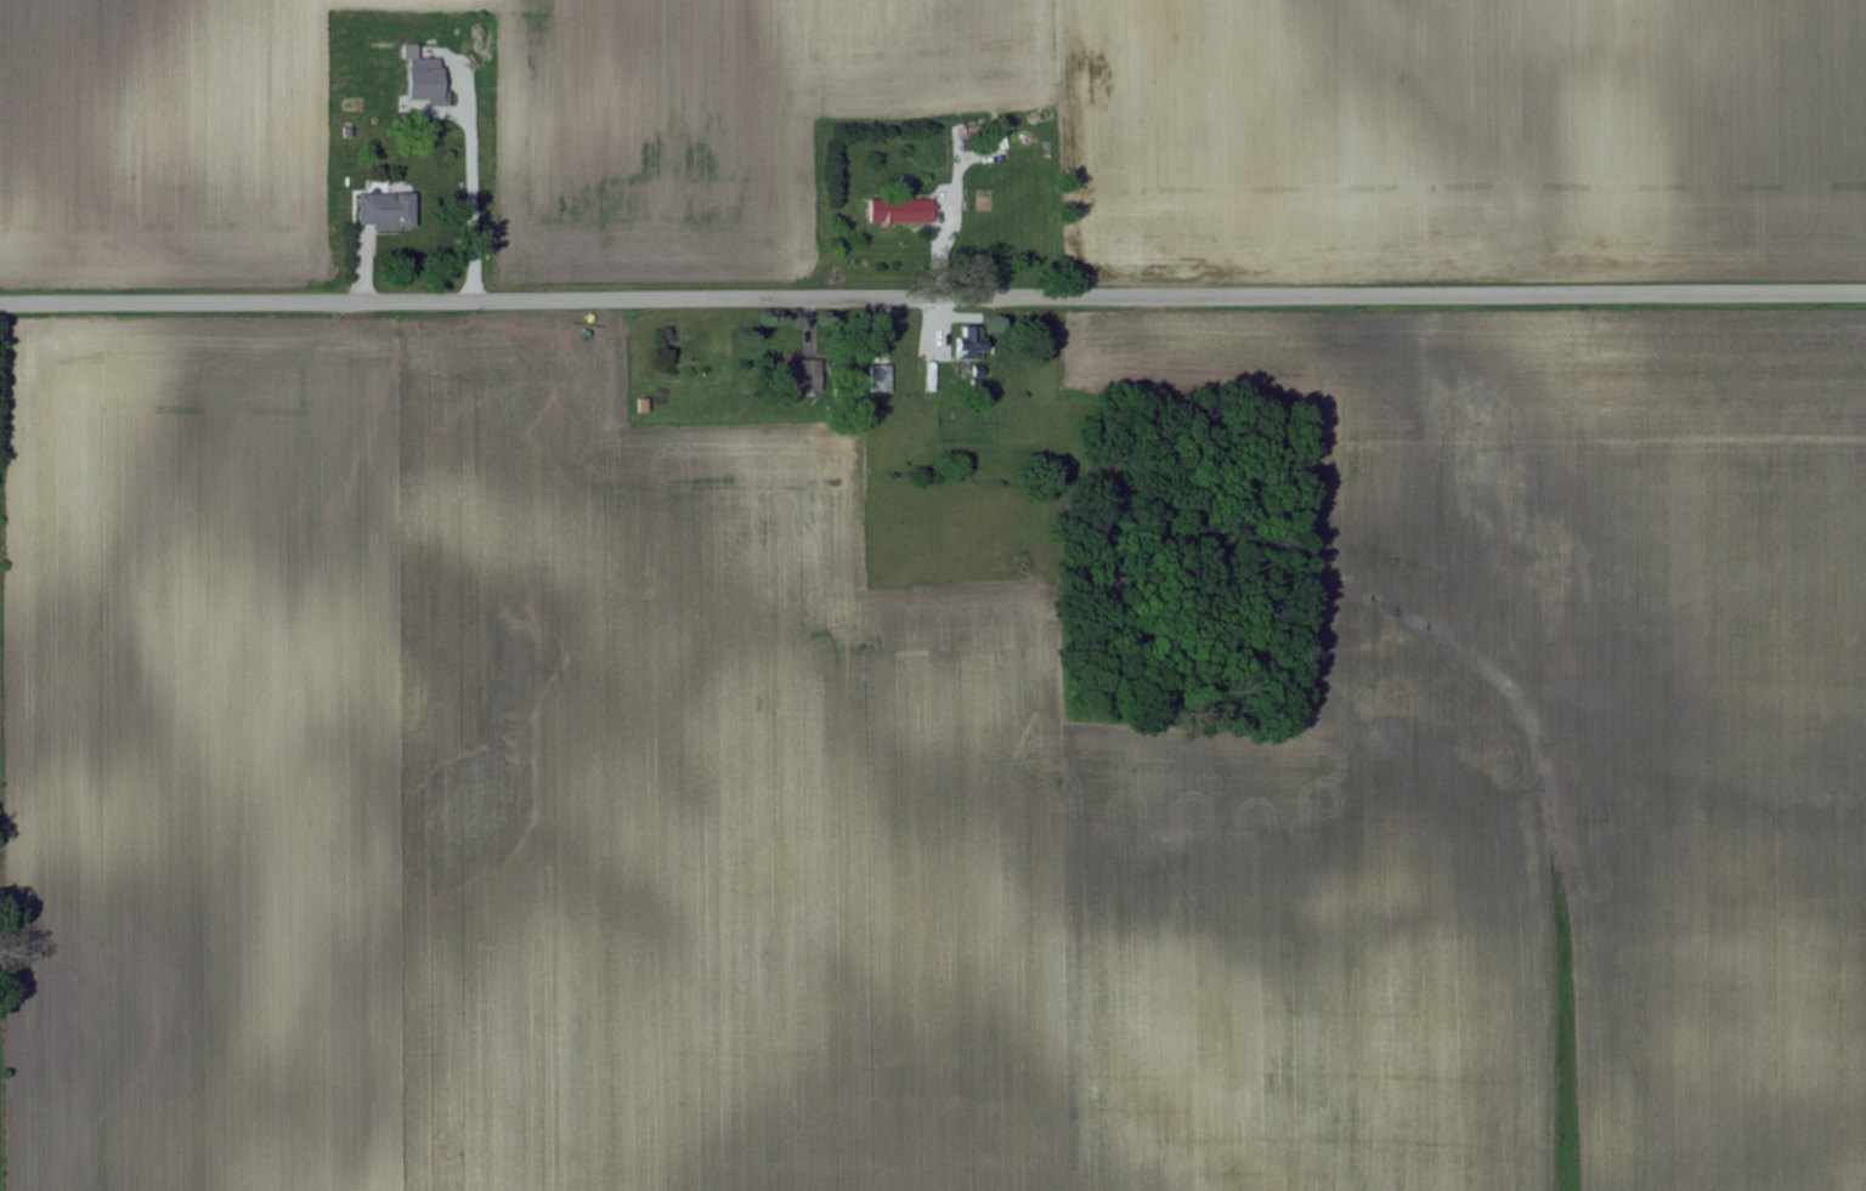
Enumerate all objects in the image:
building: (426, 78)
road: (469, 186)
building: (900, 210)
road: (944, 217)
road: (933, 300)
building: (969, 344)
building: (880, 376)

